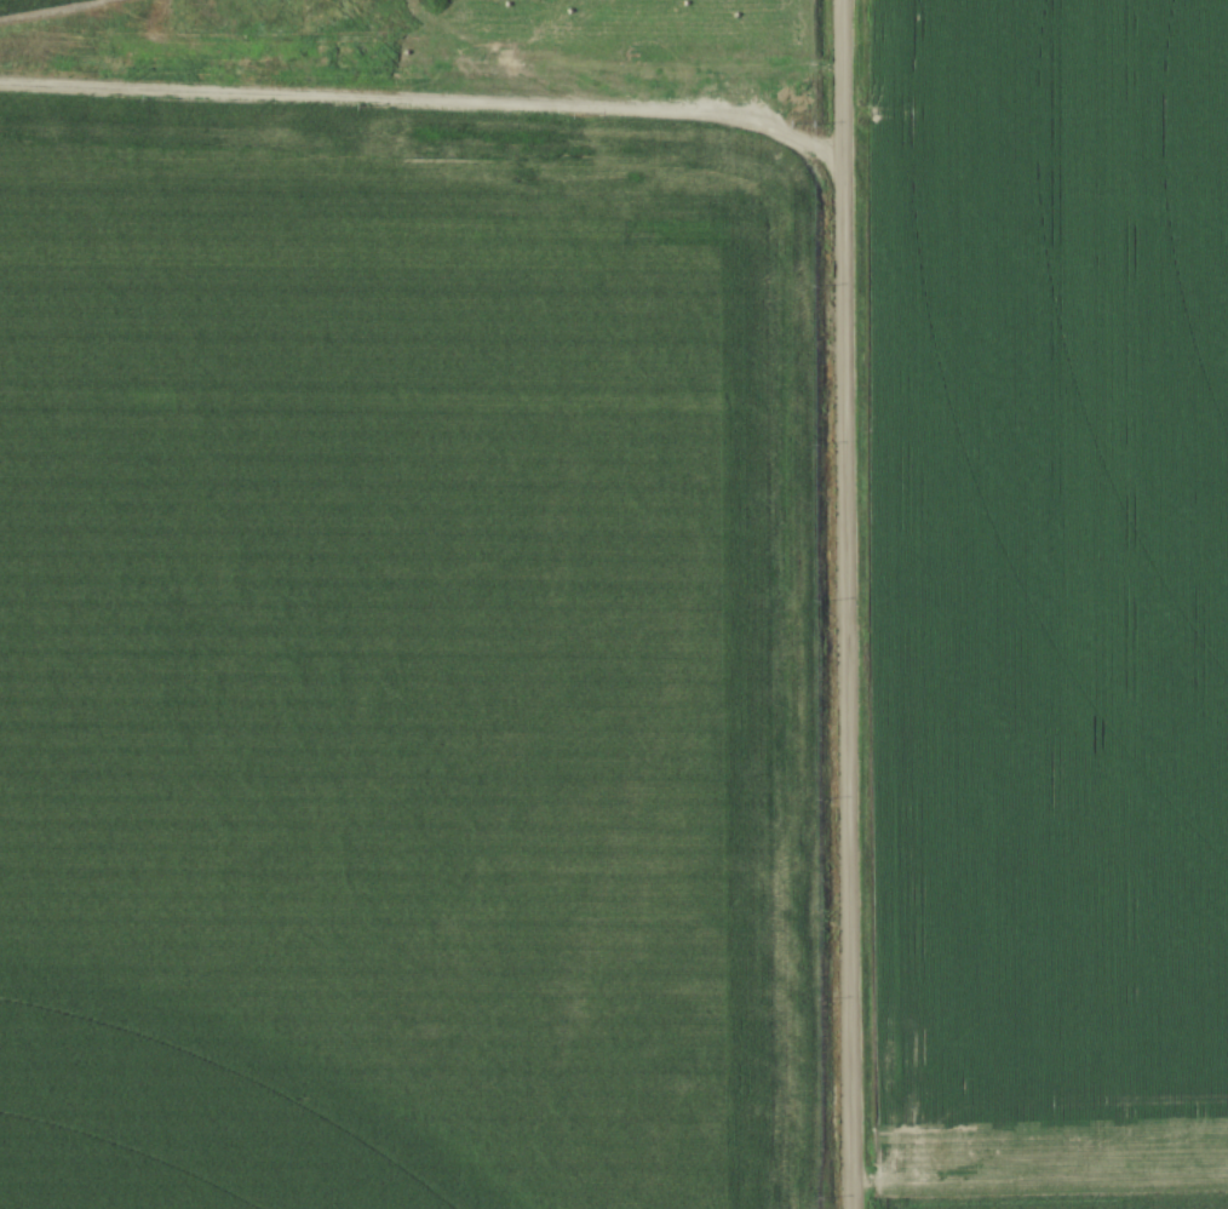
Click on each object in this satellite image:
road: (838, 604)

